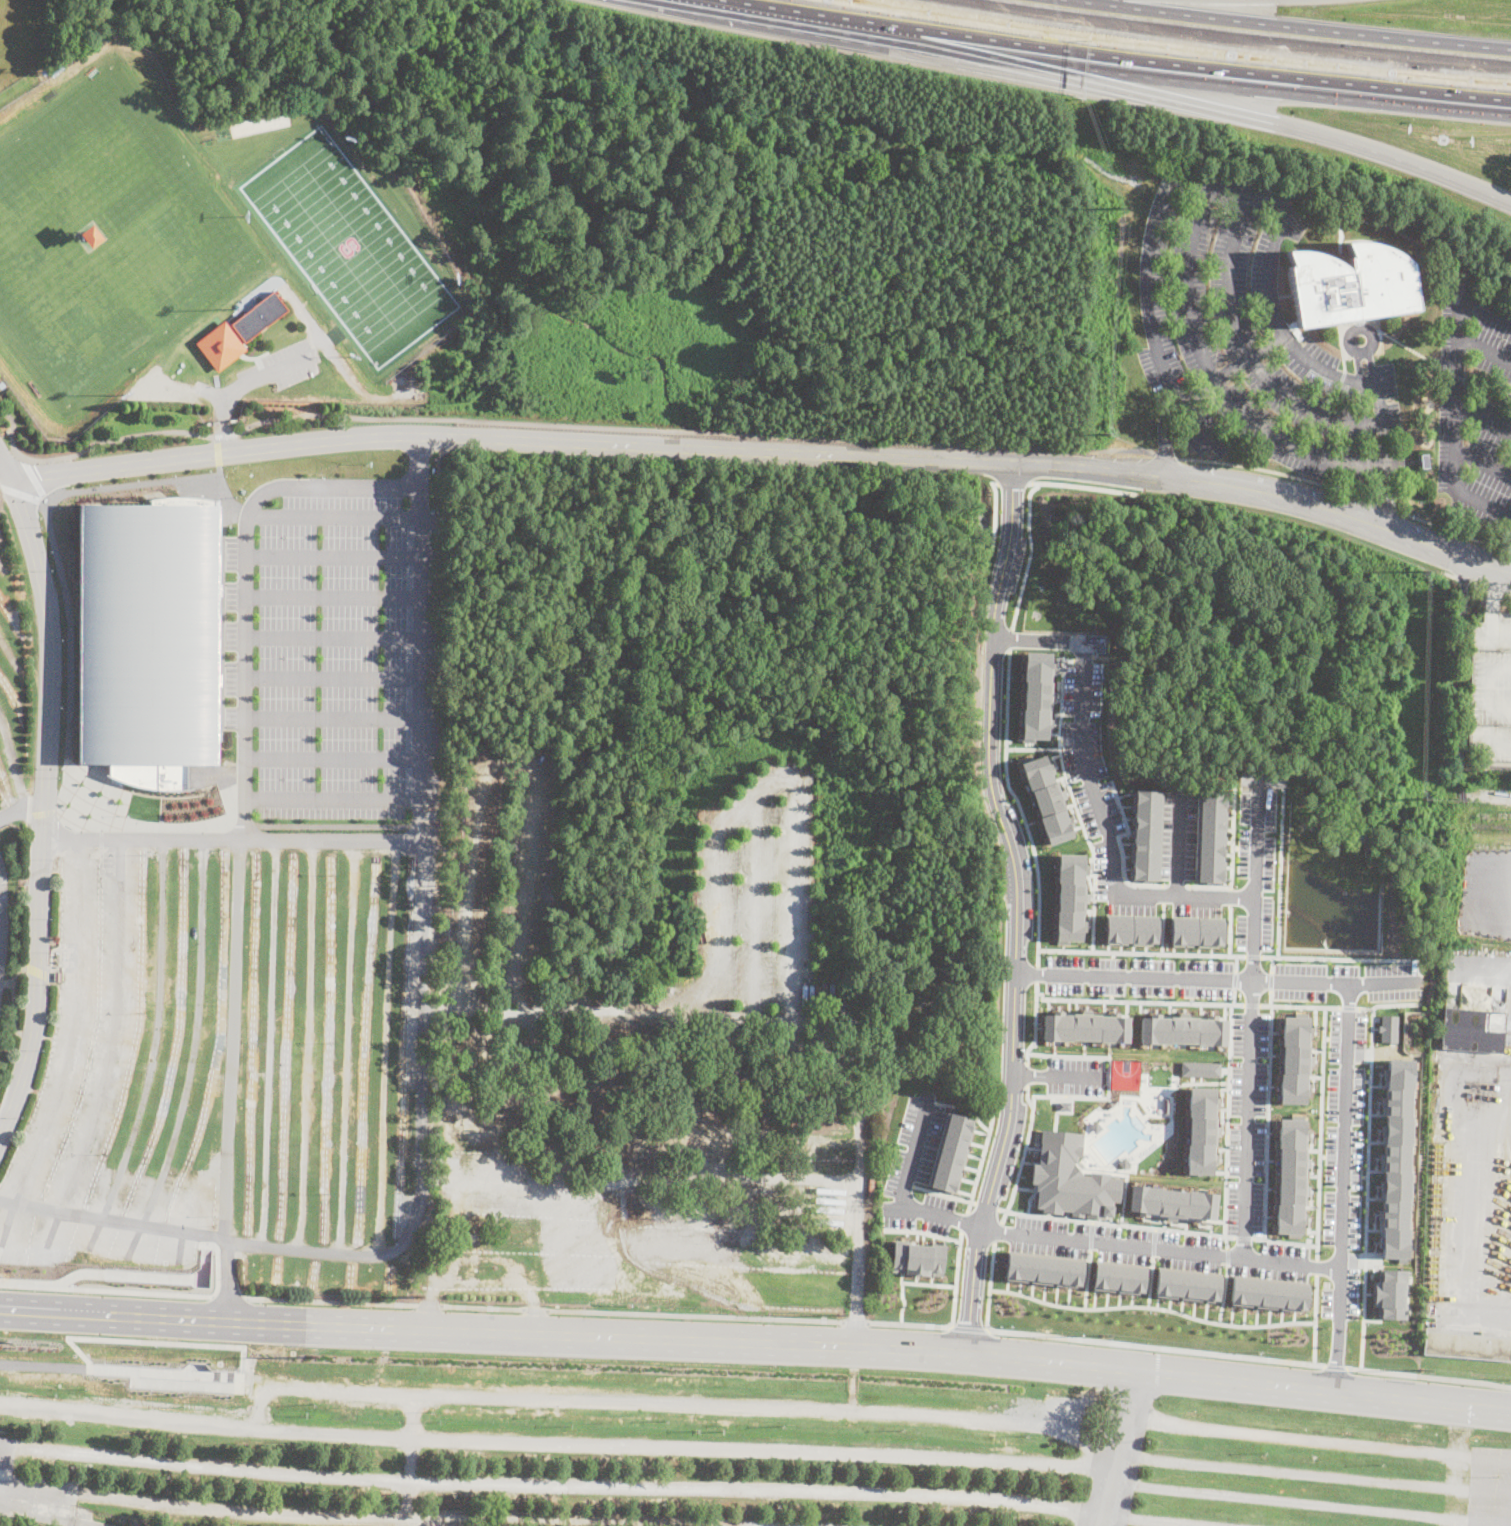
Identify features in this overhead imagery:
road: (742, 9)
road: (1288, 30)
road: (1153, 70)
road: (1158, 99)
road: (1235, 200)
power tower: (1115, 205)
building: (90, 235)
park: (106, 236)
park: (350, 246)
building: (1349, 286)
building: (239, 331)
parking lot: (1253, 339)
road: (1484, 350)
road: (1249, 355)
road: (1218, 383)
road: (234, 386)
road: (1200, 390)
road: (1456, 394)
parking lot: (1475, 407)
road: (1483, 424)
road: (1198, 428)
road: (694, 431)
road: (225, 435)
power tower: (1104, 436)
road: (88, 447)
road: (215, 450)
road: (767, 452)
road: (1387, 454)
road: (1166, 455)
building: (1425, 460)
road: (418, 464)
road: (1483, 464)
road: (6, 466)
road: (1271, 471)
road: (6, 476)
road: (33, 476)
road: (1012, 482)
road: (136, 483)
road: (1083, 486)
road: (227, 498)
road: (1011, 499)
road: (1380, 505)
road: (994, 510)
road: (333, 518)
road: (1454, 532)
road: (1028, 554)
road: (333, 555)
road: (1005, 563)
road: (2, 567)
power tower: (1428, 567)
road: (246, 583)
road: (1497, 589)
road: (333, 596)
road: (1494, 596)
road: (1502, 624)
road: (333, 636)
building: (149, 638)
road: (1010, 638)
building: (1097, 642)
road: (9, 655)
road: (68, 655)
road: (1099, 658)
road: (1085, 659)
road: (421, 663)
road: (333, 677)
road: (1462, 684)
road: (1485, 688)
building: (1491, 688)
parking garage: (1491, 688)
building: (1035, 695)
road: (991, 698)
road: (333, 718)
road: (1497, 745)
road: (1033, 748)
road: (333, 757)
road: (13, 759)
road: (1096, 793)
power tower: (1417, 797)
road: (333, 798)
building: (1047, 798)
road: (1074, 800)
road: (42, 806)
road: (1019, 806)
road: (21, 807)
building: (1144, 835)
road: (231, 837)
building: (1209, 837)
road: (1177, 844)
road: (1121, 846)
road: (1011, 851)
road: (1231, 858)
road: (1279, 871)
road: (1110, 882)
road: (1177, 885)
road: (1230, 894)
building: (1070, 898)
road: (1017, 918)
road: (1163, 924)
building: (1130, 929)
road: (1229, 929)
building: (1196, 931)
road: (1141, 952)
road: (1254, 955)
road: (1338, 958)
road: (1236, 963)
road: (1271, 964)
road: (1037, 973)
building: (57, 976)
road: (1217, 978)
road: (1235, 978)
road: (1270, 980)
road: (1233, 995)
road: (1270, 996)
road: (1138, 1000)
road: (1252, 1004)
road: (1301, 1005)
road: (1349, 1007)
road: (1364, 1007)
building: (943, 1017)
road: (1251, 1020)
road: (1014, 1021)
road: (1035, 1024)
building: (1085, 1027)
building: (1389, 1028)
building: (1183, 1029)
building: (1472, 1030)
road: (233, 1037)
road: (268, 1040)
road: (308, 1043)
road: (347, 1046)
road: (71, 1047)
road: (385, 1047)
road: (153, 1050)
road: (112, 1051)
road: (193, 1053)
building: (1293, 1059)
building: (1201, 1068)
road: (1026, 1074)
road: (1057, 1075)
road: (1026, 1096)
road: (1268, 1121)
road: (1228, 1126)
building: (1201, 1129)
road: (1321, 1132)
road: (1003, 1150)
building: (949, 1151)
building: (1396, 1157)
road: (1022, 1159)
road: (980, 1161)
road: (1367, 1164)
parking lot: (916, 1171)
building: (1291, 1176)
building: (1070, 1178)
road: (1342, 1188)
road: (902, 1193)
road: (937, 1193)
building: (1173, 1202)
road: (858, 1206)
road: (964, 1220)
road: (1115, 1223)
road: (997, 1230)
road: (921, 1231)
road: (1091, 1233)
road: (1244, 1237)
road: (200, 1239)
road: (1154, 1241)
road: (1284, 1241)
road: (400, 1242)
road: (1159, 1247)
building: (917, 1256)
road: (1228, 1256)
road: (217, 1264)
road: (1317, 1266)
building: (1044, 1268)
road: (137, 1273)
road: (974, 1274)
building: (1119, 1276)
road: (1087, 1277)
road: (62, 1278)
road: (226, 1279)
road: (956, 1279)
road: (906, 1281)
road: (1150, 1281)
road: (989, 1285)
building: (1186, 1285)
road: (105, 1291)
road: (1224, 1293)
building: (1269, 1293)
building: (1390, 1293)
road: (234, 1296)
power tower: (415, 1296)
road: (337, 1300)
road: (429, 1306)
road: (1151, 1307)
road: (483, 1308)
road: (536, 1309)
power tower: (837, 1315)
road: (696, 1316)
road: (1315, 1319)
road: (856, 1321)
road: (908, 1324)
road: (968, 1327)
power tower: (1100, 1335)
power tower: (5, 1342)
road: (756, 1342)
road: (216, 1344)
road: (1156, 1346)
building: (1467, 1346)
power tower: (311, 1358)
road: (43, 1362)
road: (193, 1365)
road: (1336, 1365)
road: (139, 1368)
power tower: (1420, 1369)
road: (238, 1373)
road: (1429, 1375)
road: (256, 1378)
road: (695, 1405)
road: (1305, 1441)
road: (555, 1442)
parking lot: (530, 1443)
road: (1118, 1448)
road: (407, 1455)
road: (1299, 1469)
parking lot: (1295, 1472)
road: (1481, 1480)
parking lot: (1490, 1484)
road: (549, 1485)
road: (1496, 1487)
road: (1294, 1499)
road: (50, 1508)
building: (60, 1512)
road: (294, 1514)
road: (1159, 1519)
road: (1494, 1521)
road: (449, 1523)

